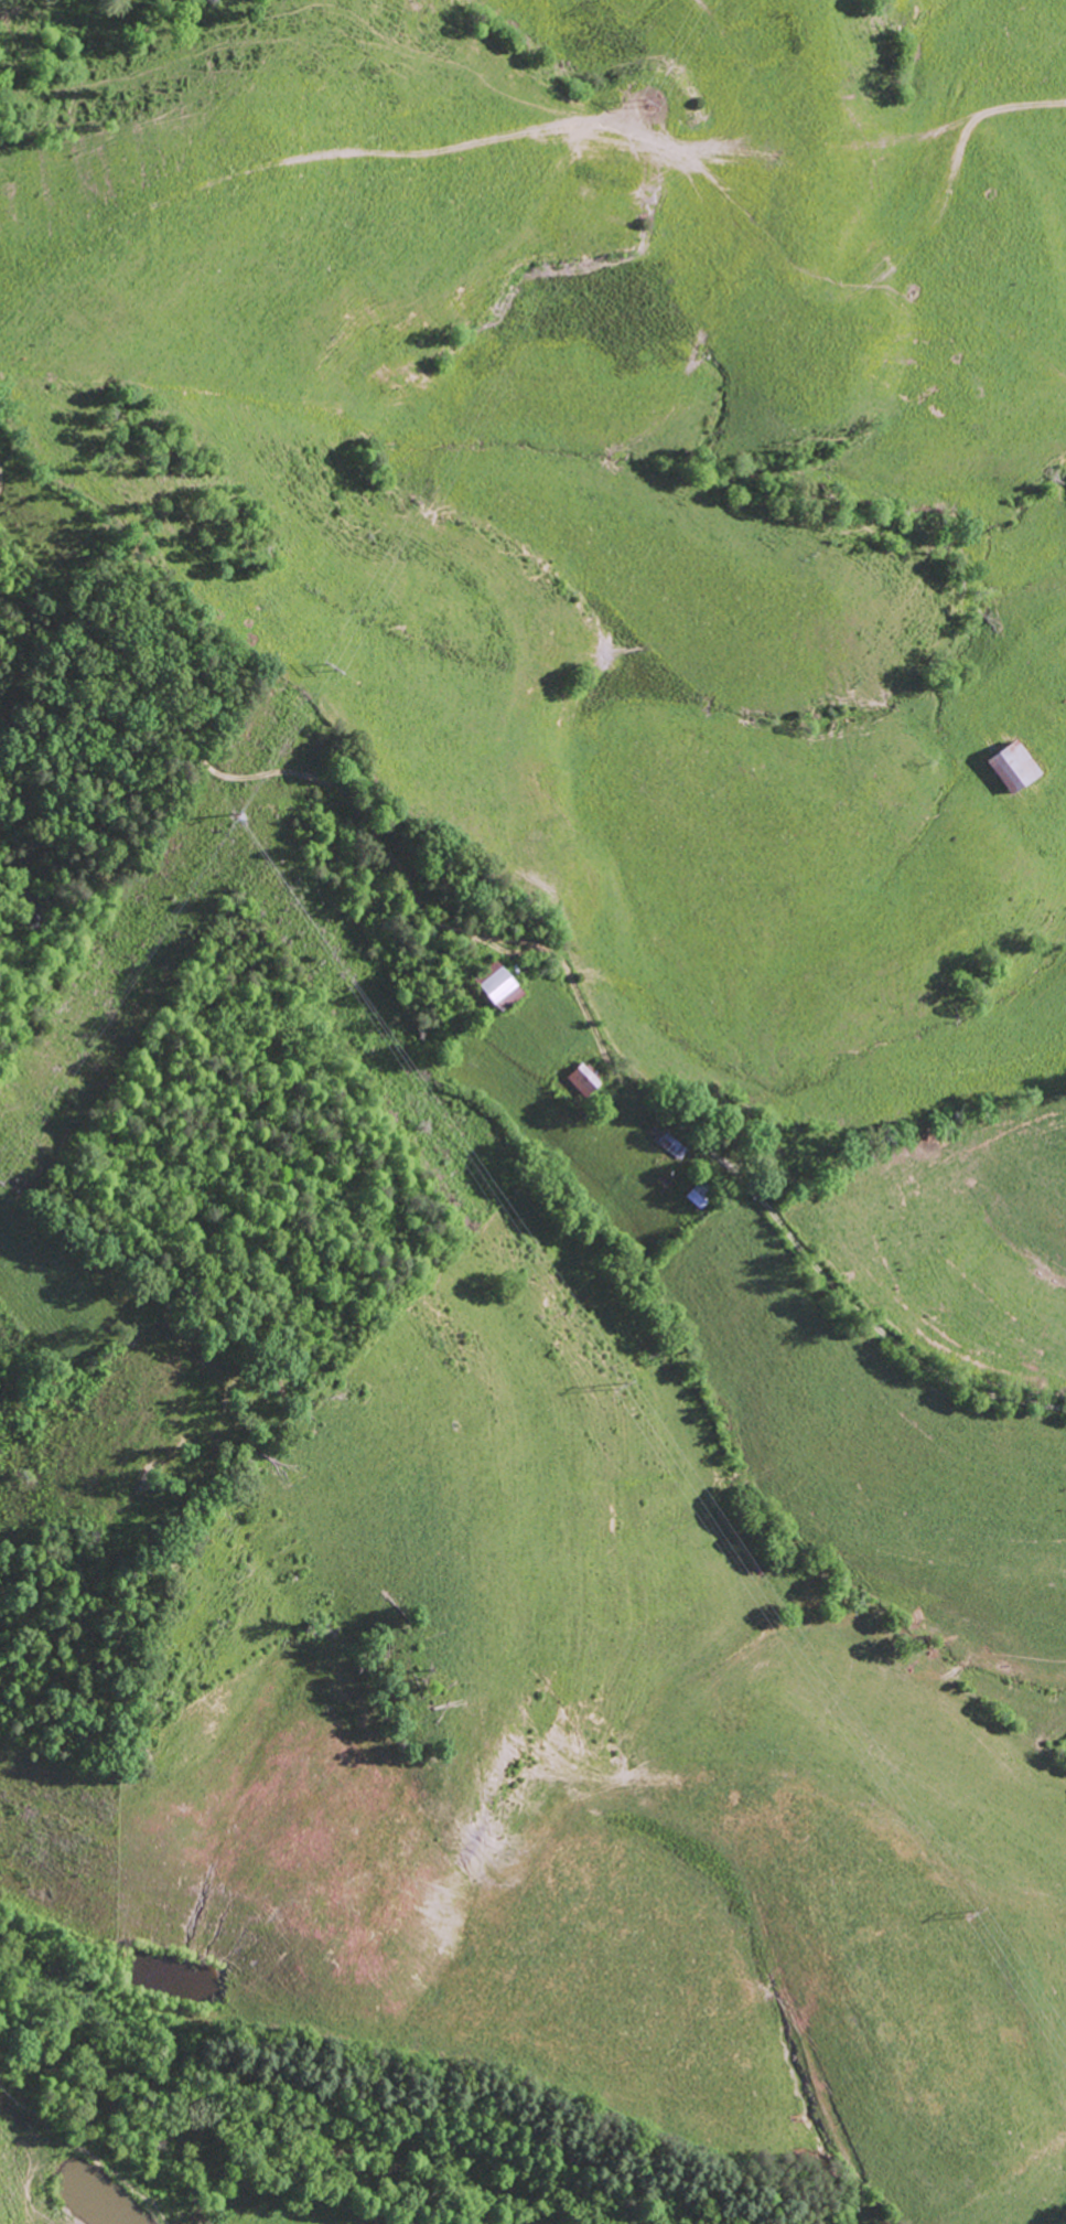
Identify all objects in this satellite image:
power tower: (650, 100)
power tower: (335, 664)
building: (1008, 768)
power tower: (234, 813)
building: (497, 988)
building: (580, 1078)
road: (882, 1334)
power tower: (626, 1383)
power tower: (975, 1914)

